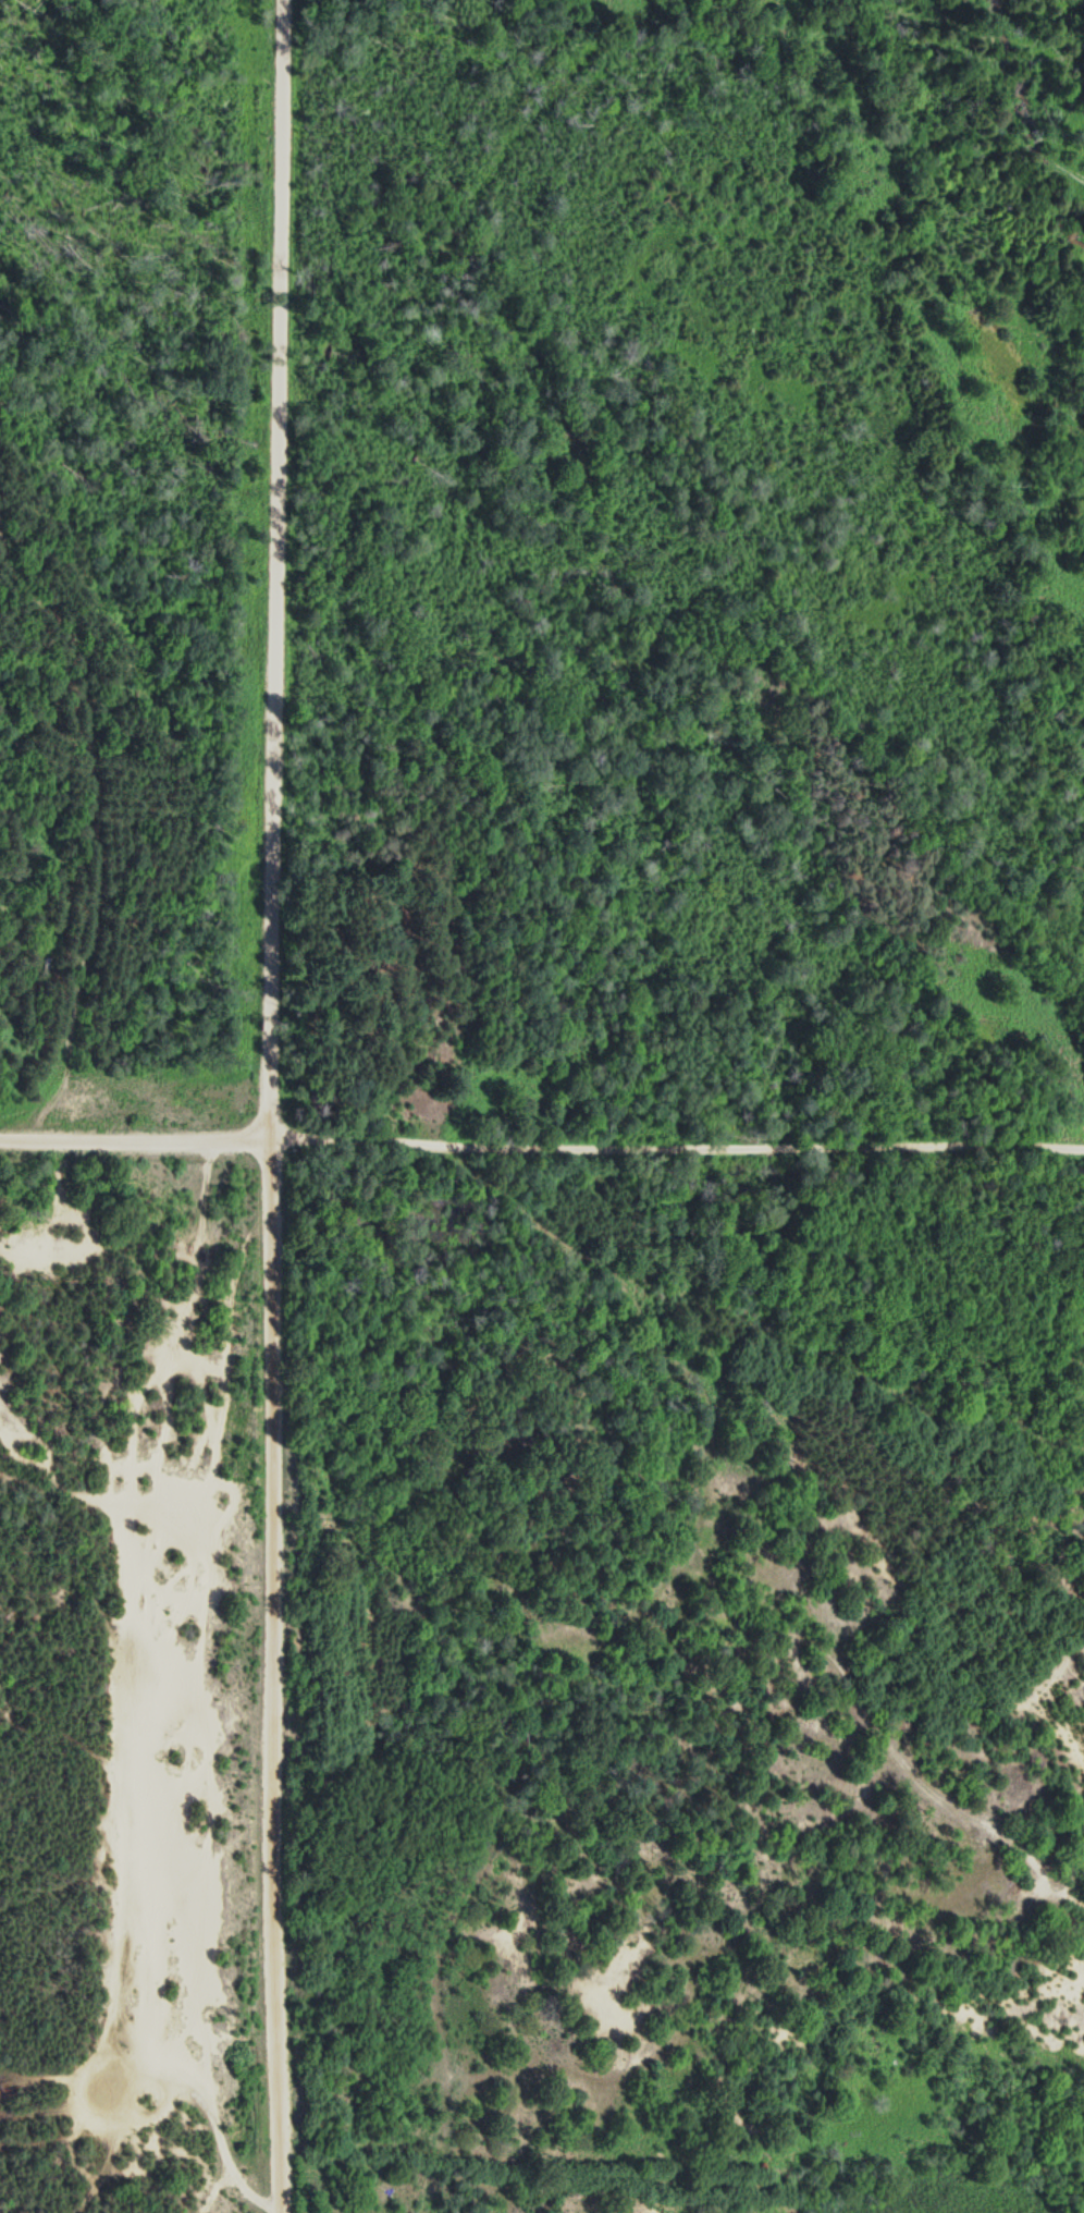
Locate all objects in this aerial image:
road: (270, 1105)
road: (541, 1142)

